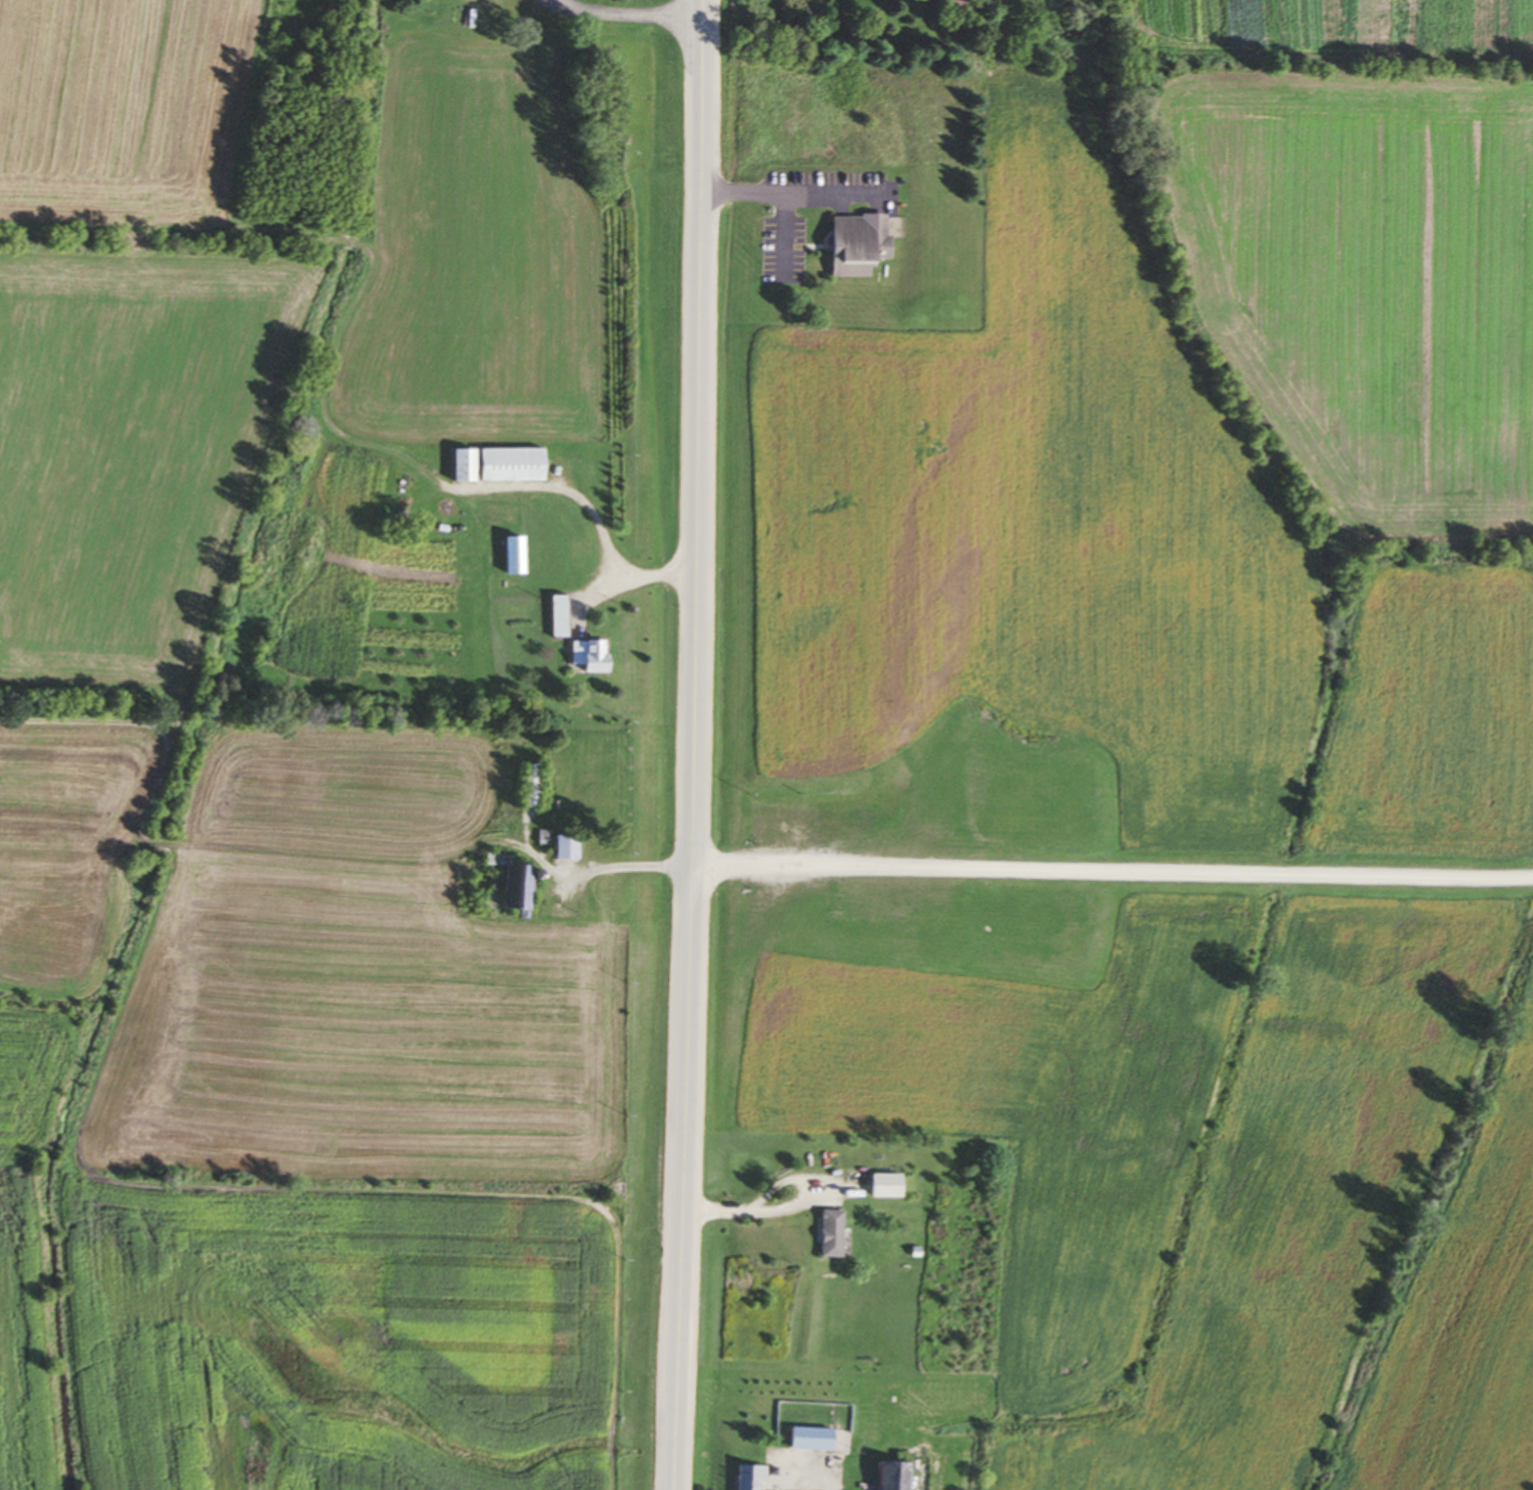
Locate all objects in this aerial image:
building: (956, 6)
road: (630, 16)
road: (793, 194)
building: (864, 245)
building: (503, 466)
road: (598, 519)
building: (518, 555)
building: (563, 617)
building: (595, 656)
road: (696, 745)
building: (534, 785)
building: (598, 797)
building: (546, 837)
building: (569, 847)
road: (630, 868)
road: (1113, 872)
building: (516, 883)
landfill: (336, 1093)
building: (894, 1186)
road: (775, 1209)
building: (837, 1234)
building: (817, 1440)
building: (902, 1476)
building: (752, 1478)
road: (828, 1481)

